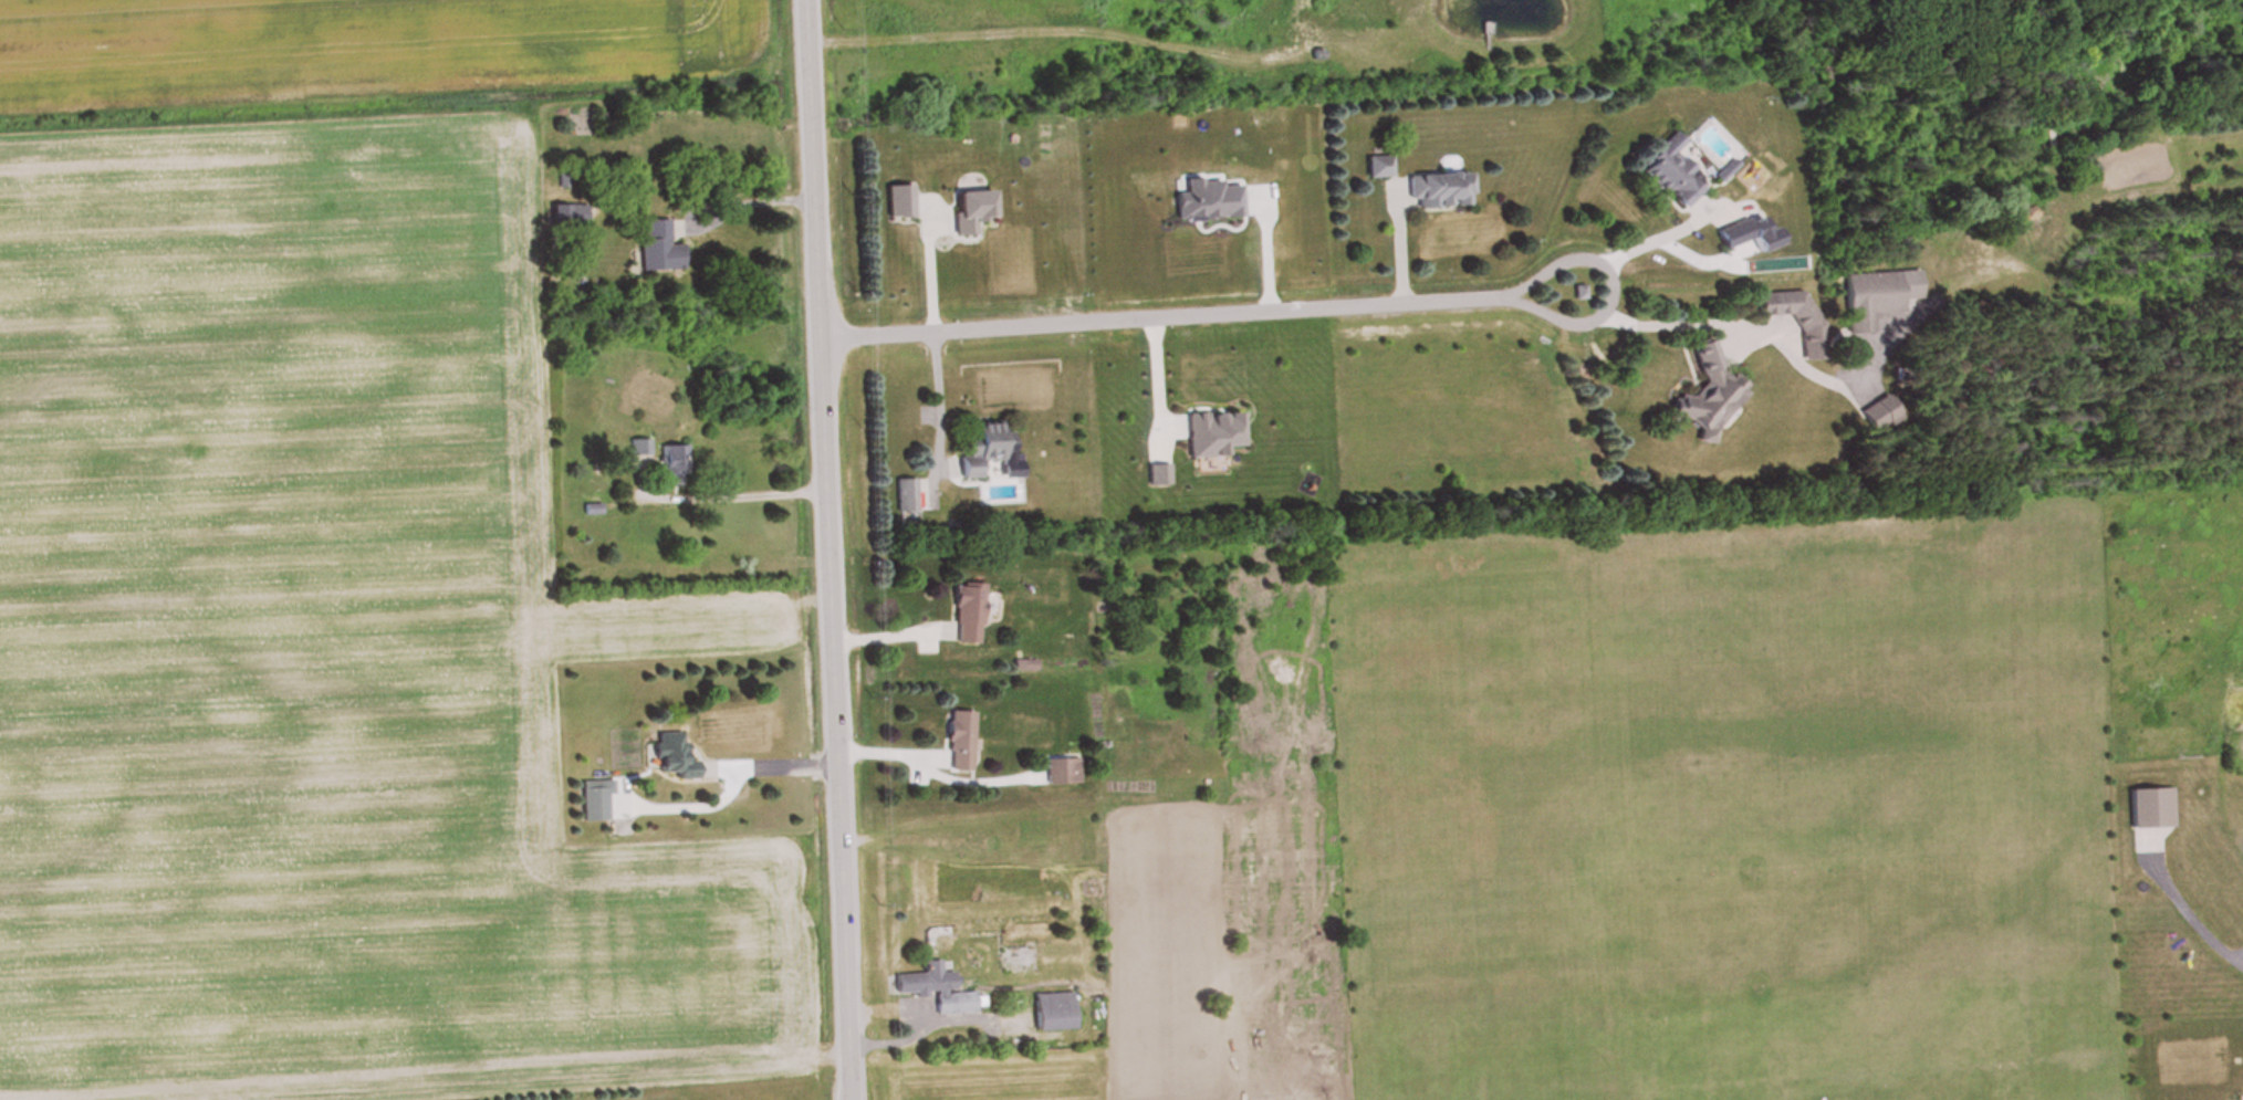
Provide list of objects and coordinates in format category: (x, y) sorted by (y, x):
building: (1379, 168)
building: (1671, 172)
building: (1440, 190)
building: (568, 217)
road: (1644, 233)
building: (1735, 235)
building: (657, 248)
road: (930, 260)
road: (1194, 300)
building: (1871, 300)
road: (1709, 312)
building: (1811, 339)
road: (938, 387)
building: (1709, 396)
building: (641, 448)
building: (984, 448)
building: (676, 465)
building: (907, 496)
road: (731, 497)
road: (823, 549)
building: (968, 615)
road: (886, 622)
building: (958, 743)
building: (672, 757)
building: (1064, 772)
building: (596, 800)
building: (2153, 809)
building: (938, 989)
building: (1055, 1012)

